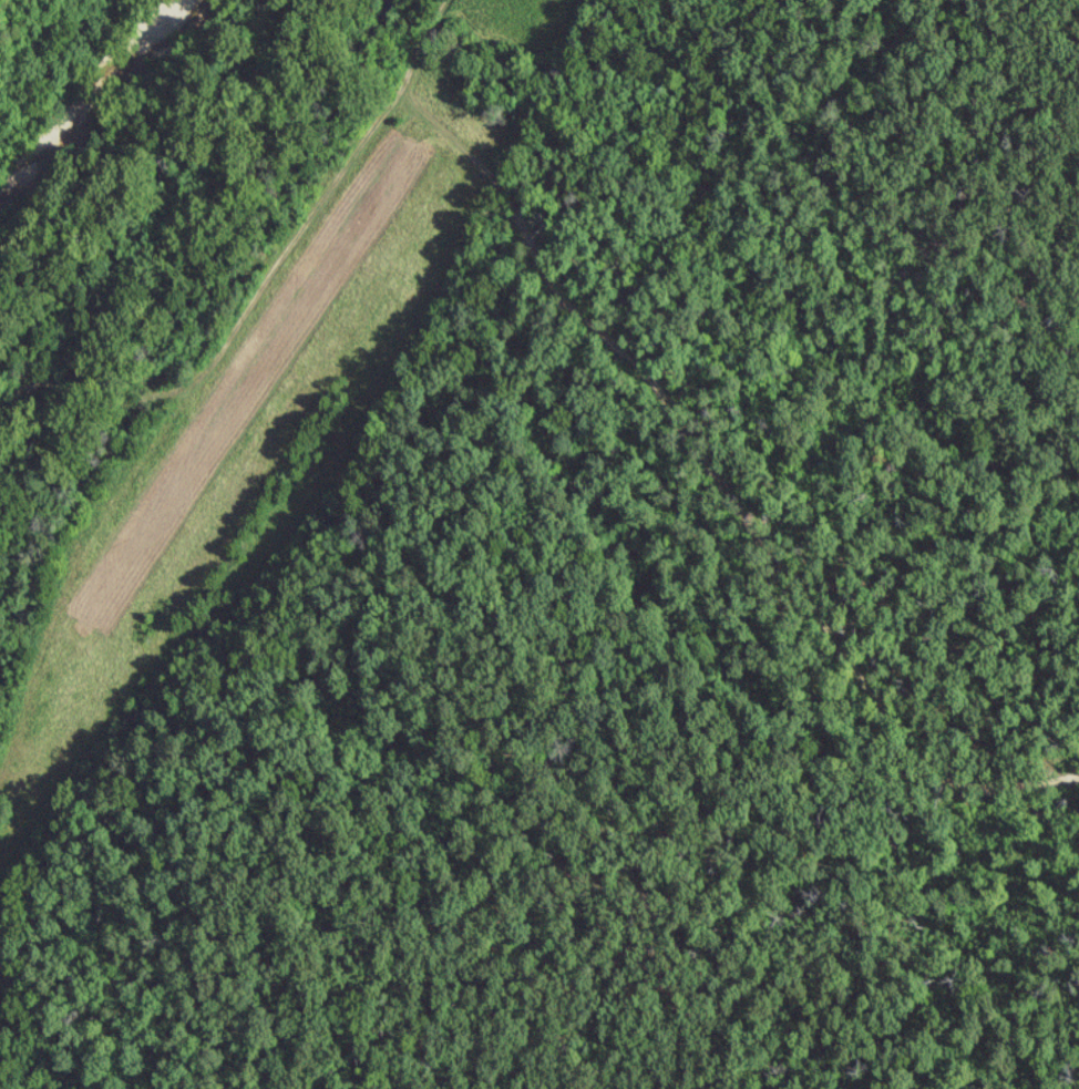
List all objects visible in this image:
road: (246, 320)
road: (695, 441)

